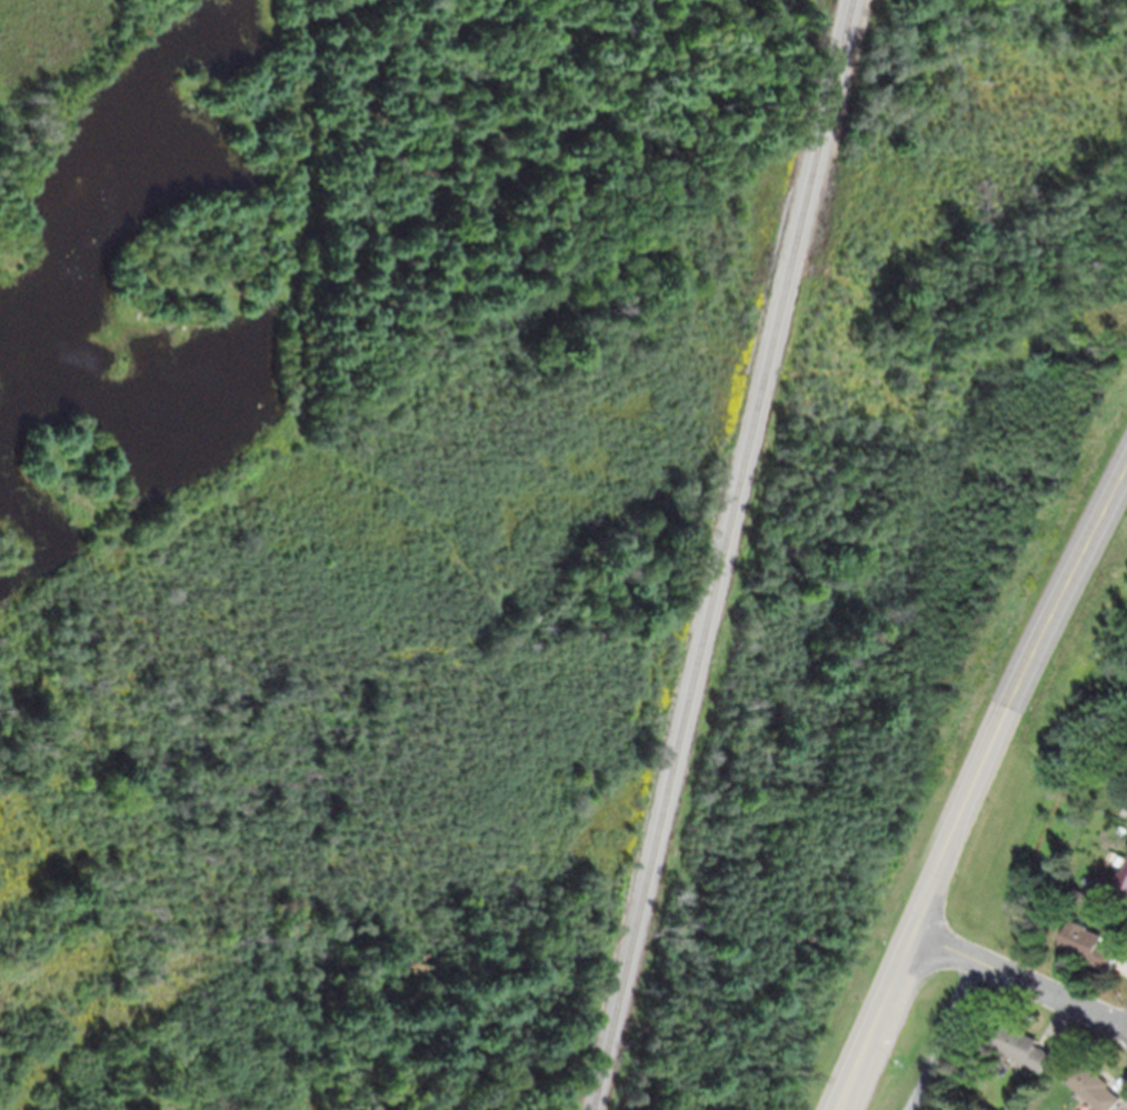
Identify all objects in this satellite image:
railway: (720, 554)
road: (1017, 703)
building: (1125, 810)
building: (1124, 829)
building: (1121, 883)
building: (1103, 906)
building: (1093, 944)
road: (1019, 977)
road: (869, 1020)
road: (875, 1020)
road: (941, 1033)
building: (1026, 1049)
building: (1095, 1084)
building: (1007, 1109)

